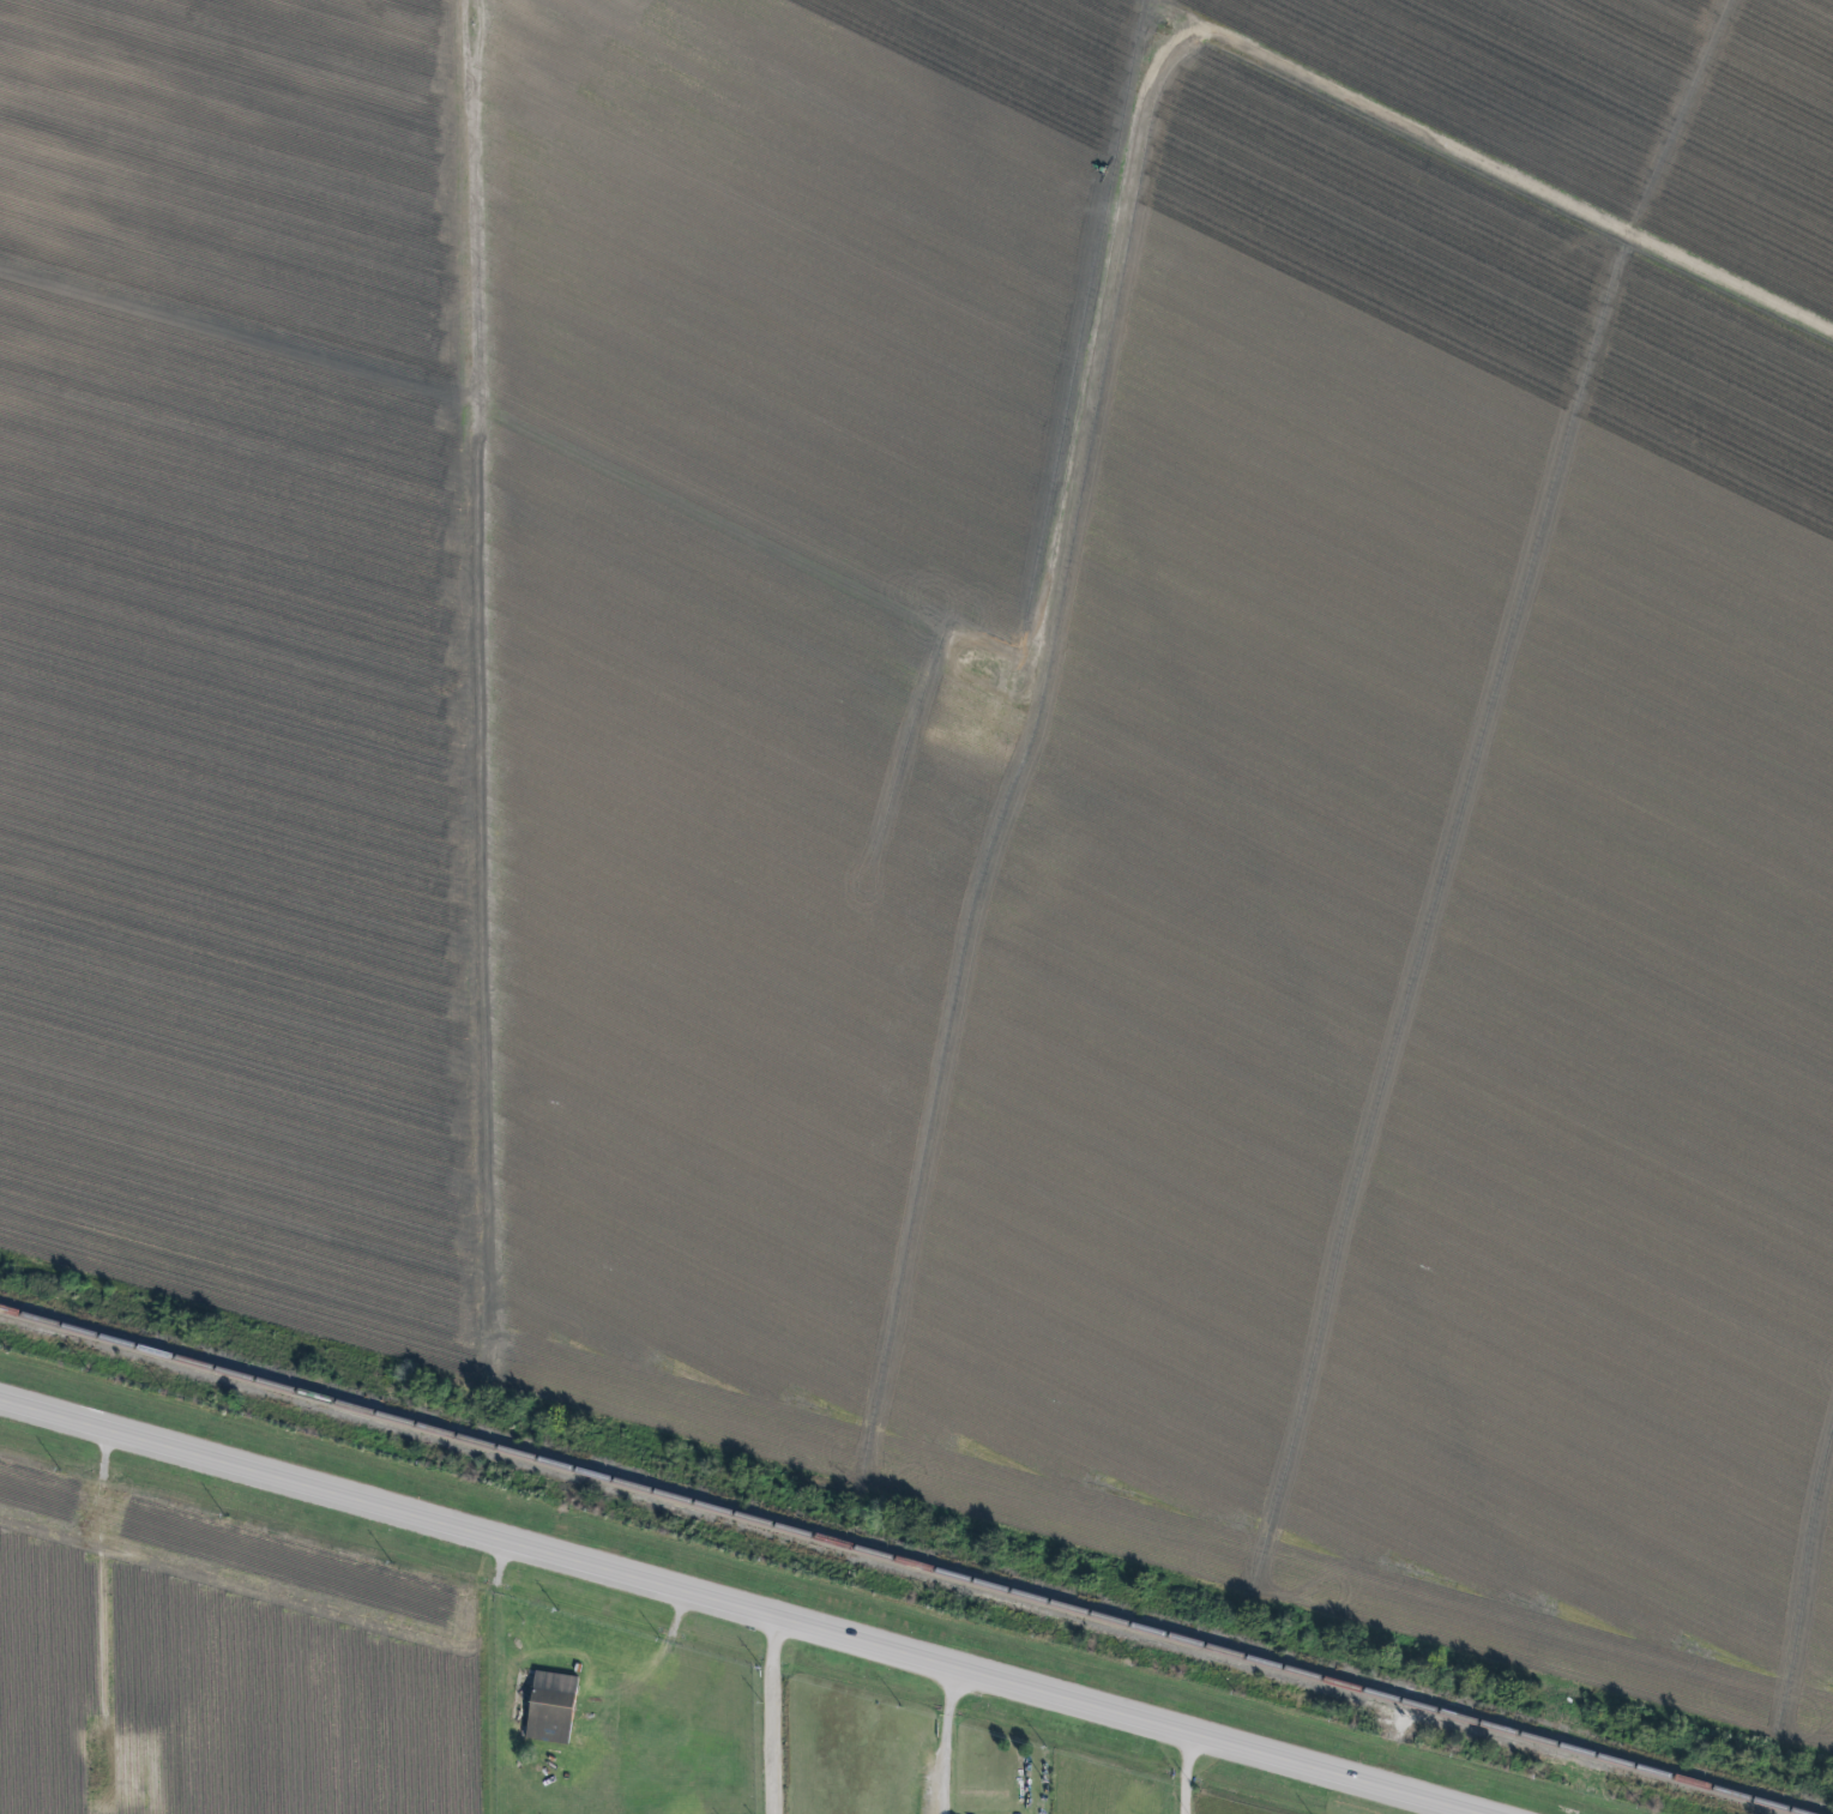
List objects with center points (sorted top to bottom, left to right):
railway: (898, 1561)
road: (113, 1578)
road: (735, 1608)
road: (502, 1665)
building: (550, 1707)
road: (777, 1717)
road: (951, 1741)
road: (1184, 1774)

